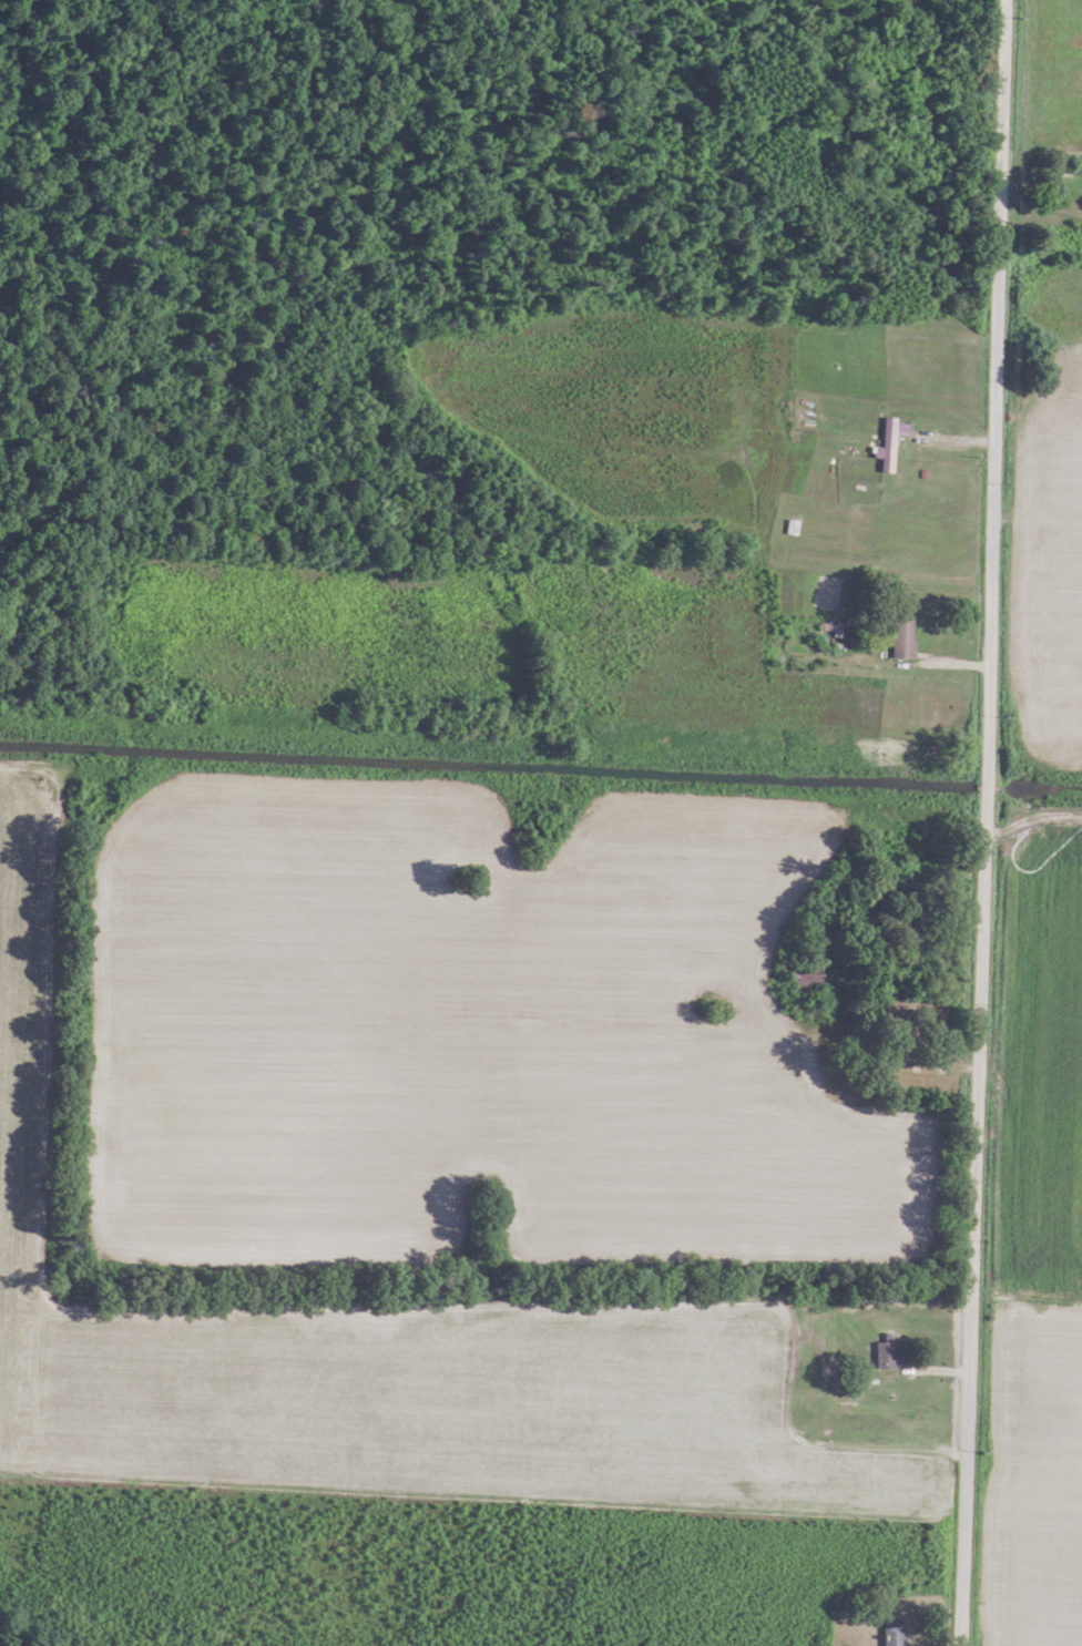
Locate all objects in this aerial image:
road: (1041, 211)
building: (880, 446)
building: (896, 638)
road: (1033, 817)
road: (984, 822)
building: (811, 926)
building: (798, 973)
building: (881, 1352)
building: (887, 1633)

